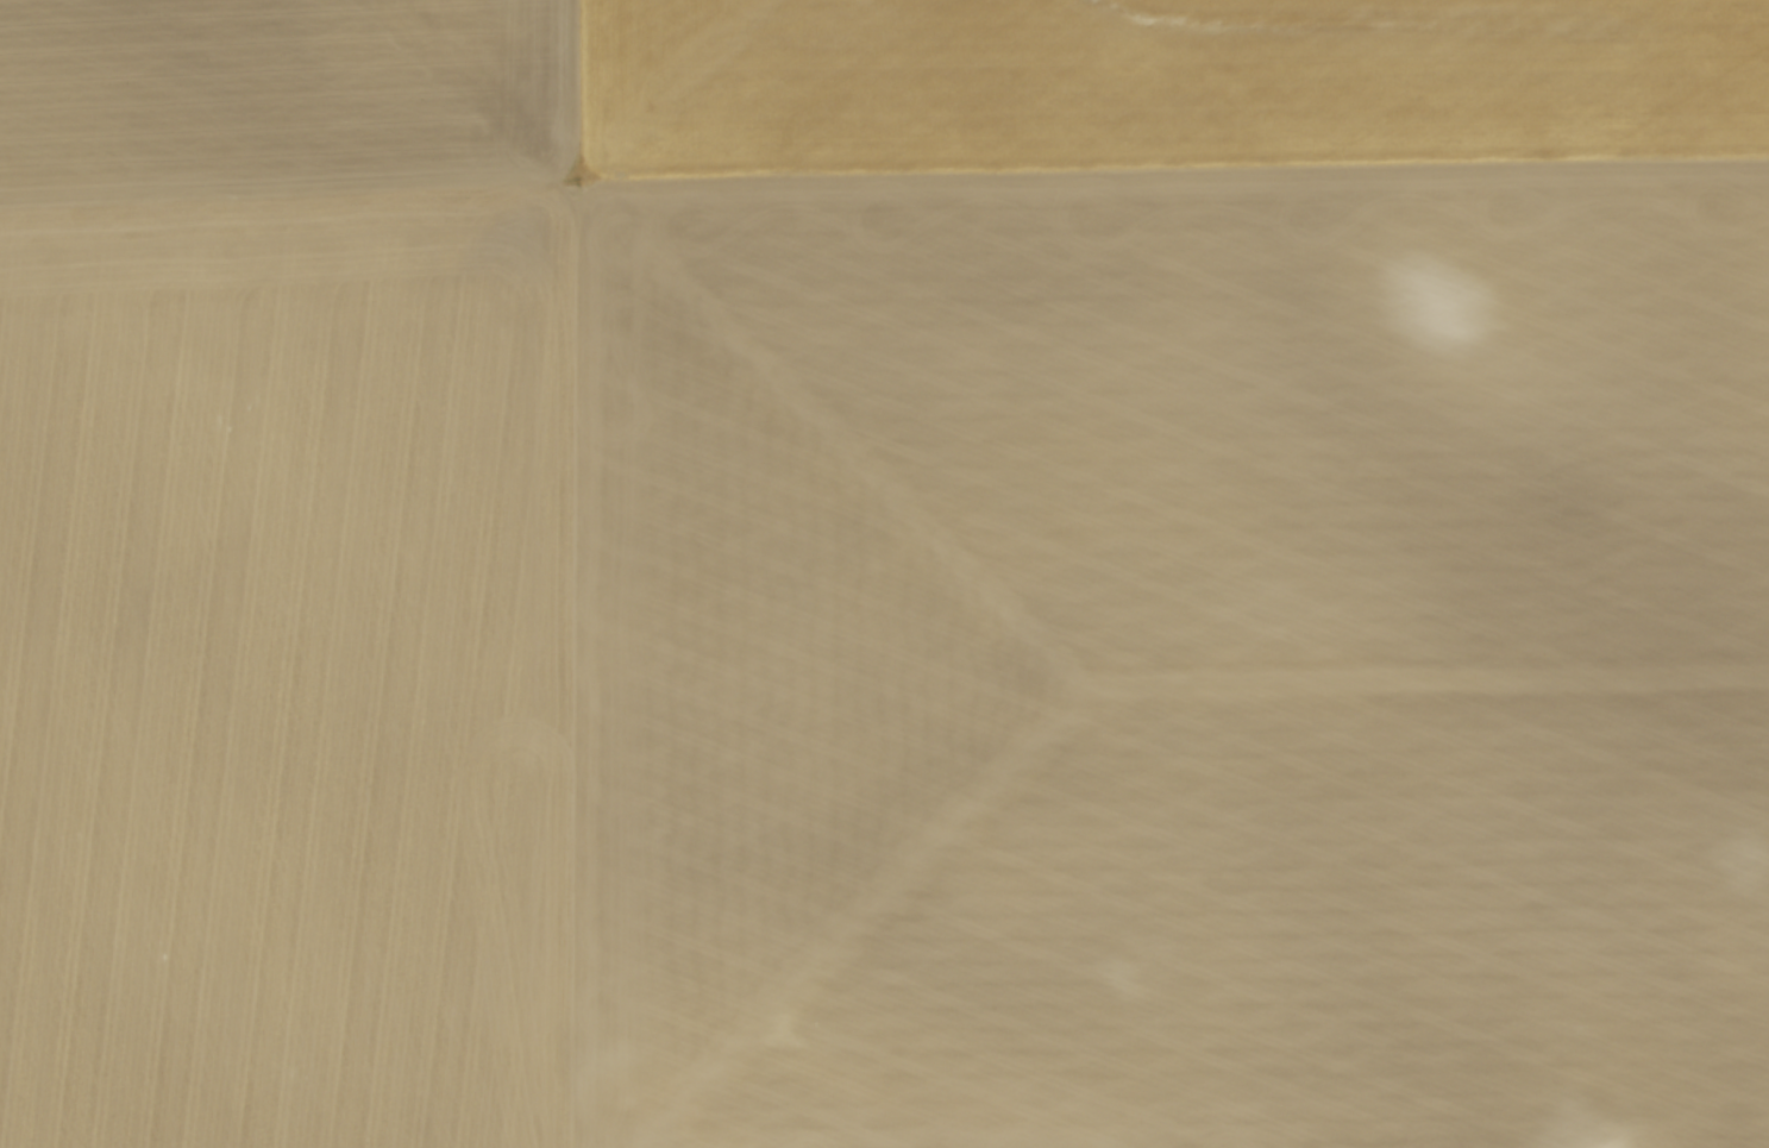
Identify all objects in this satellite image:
crop: (884, 573)

